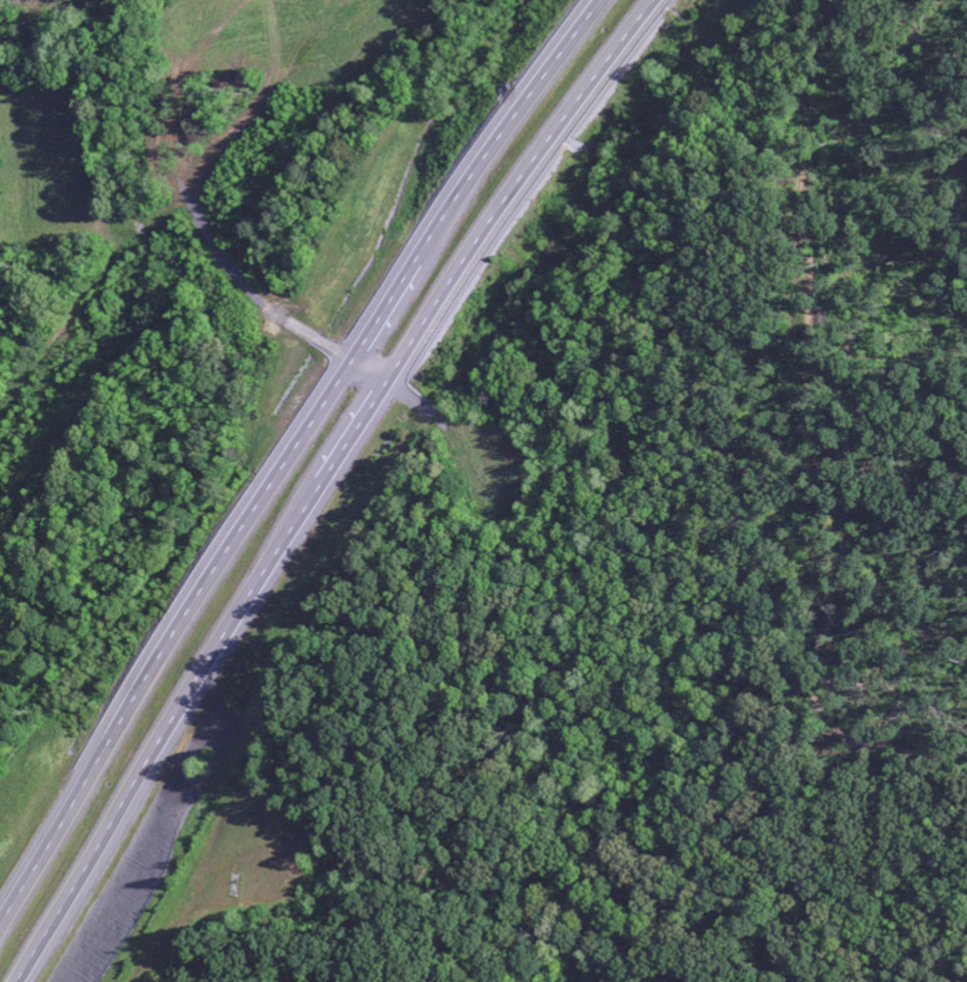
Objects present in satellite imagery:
road: (367, 371)
road: (290, 450)
road: (319, 482)

